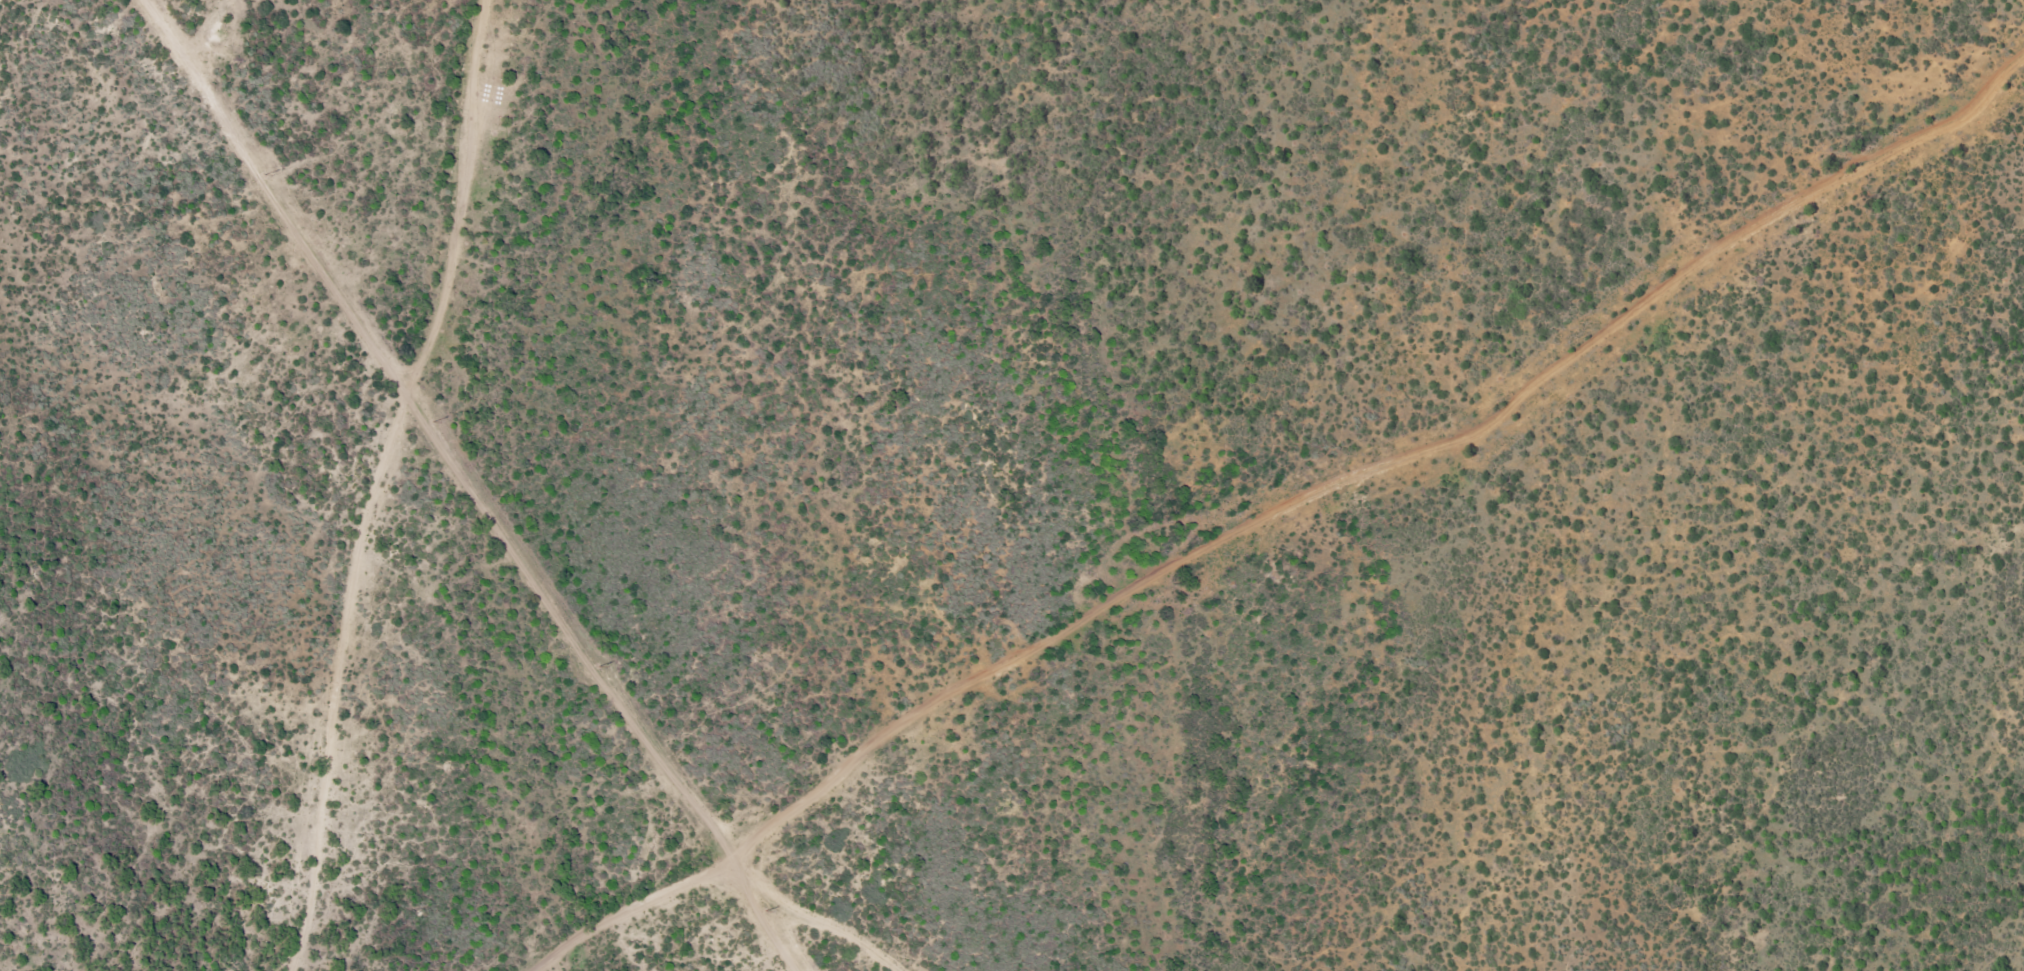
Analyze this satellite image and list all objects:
power tower: (264, 174)
power tower: (431, 422)
road: (384, 484)
power tower: (598, 667)
road: (725, 875)
power tower: (763, 911)

